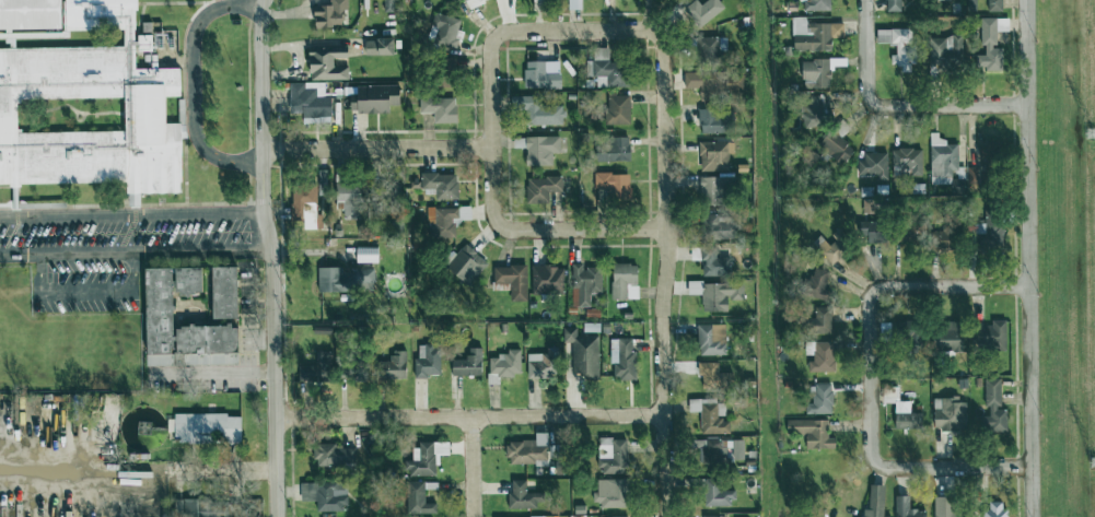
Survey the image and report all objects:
building: (450, 0)
building: (470, 2)
building: (571, 4)
building: (814, 4)
building: (890, 5)
building: (992, 5)
road: (864, 9)
building: (699, 11)
building: (325, 13)
building: (1000, 24)
building: (443, 32)
road: (576, 32)
building: (812, 34)
building: (373, 46)
building: (895, 46)
building: (703, 47)
building: (987, 47)
building: (943, 51)
building: (322, 63)
building: (443, 64)
building: (605, 67)
building: (813, 73)
building: (539, 74)
road: (191, 82)
building: (713, 82)
road: (491, 91)
building: (84, 96)
building: (370, 98)
building: (304, 102)
road: (906, 106)
building: (436, 108)
building: (615, 109)
building: (538, 111)
building: (809, 111)
building: (710, 120)
power tower: (1090, 136)
road: (376, 148)
building: (832, 148)
building: (537, 150)
building: (610, 150)
building: (712, 155)
building: (940, 160)
building: (904, 162)
building: (871, 165)
building: (970, 175)
building: (439, 185)
building: (610, 185)
building: (711, 188)
road: (492, 189)
building: (538, 189)
building: (347, 199)
building: (302, 204)
road: (130, 214)
building: (439, 222)
building: (712, 227)
road: (584, 230)
building: (866, 232)
building: (901, 234)
building: (986, 236)
building: (937, 240)
building: (824, 249)
road: (135, 252)
building: (364, 255)
road: (270, 258)
road: (1028, 258)
building: (708, 261)
building: (464, 265)
road: (665, 275)
building: (546, 279)
building: (182, 280)
building: (341, 280)
building: (510, 280)
building: (621, 282)
building: (582, 284)
building: (812, 284)
road: (907, 287)
road: (85, 291)
building: (218, 292)
building: (717, 295)
building: (816, 321)
building: (175, 330)
building: (943, 336)
building: (988, 338)
building: (909, 339)
building: (708, 340)
building: (580, 353)
building: (819, 357)
building: (620, 359)
building: (424, 361)
building: (465, 364)
building: (538, 365)
building: (501, 366)
building: (388, 367)
building: (326, 368)
road: (223, 373)
building: (708, 374)
building: (817, 400)
building: (990, 409)
building: (898, 410)
building: (946, 414)
road: (468, 415)
building: (708, 416)
building: (203, 428)
building: (808, 433)
building: (524, 450)
building: (708, 451)
building: (330, 456)
building: (608, 456)
building: (421, 458)
power tower: (1094, 463)
road: (474, 466)
road: (911, 468)
building: (606, 493)
building: (713, 494)
building: (327, 496)
building: (517, 496)
building: (415, 500)
building: (871, 503)
building: (904, 508)
building: (946, 508)
building: (197, 509)
building: (992, 509)
building: (713, 516)

